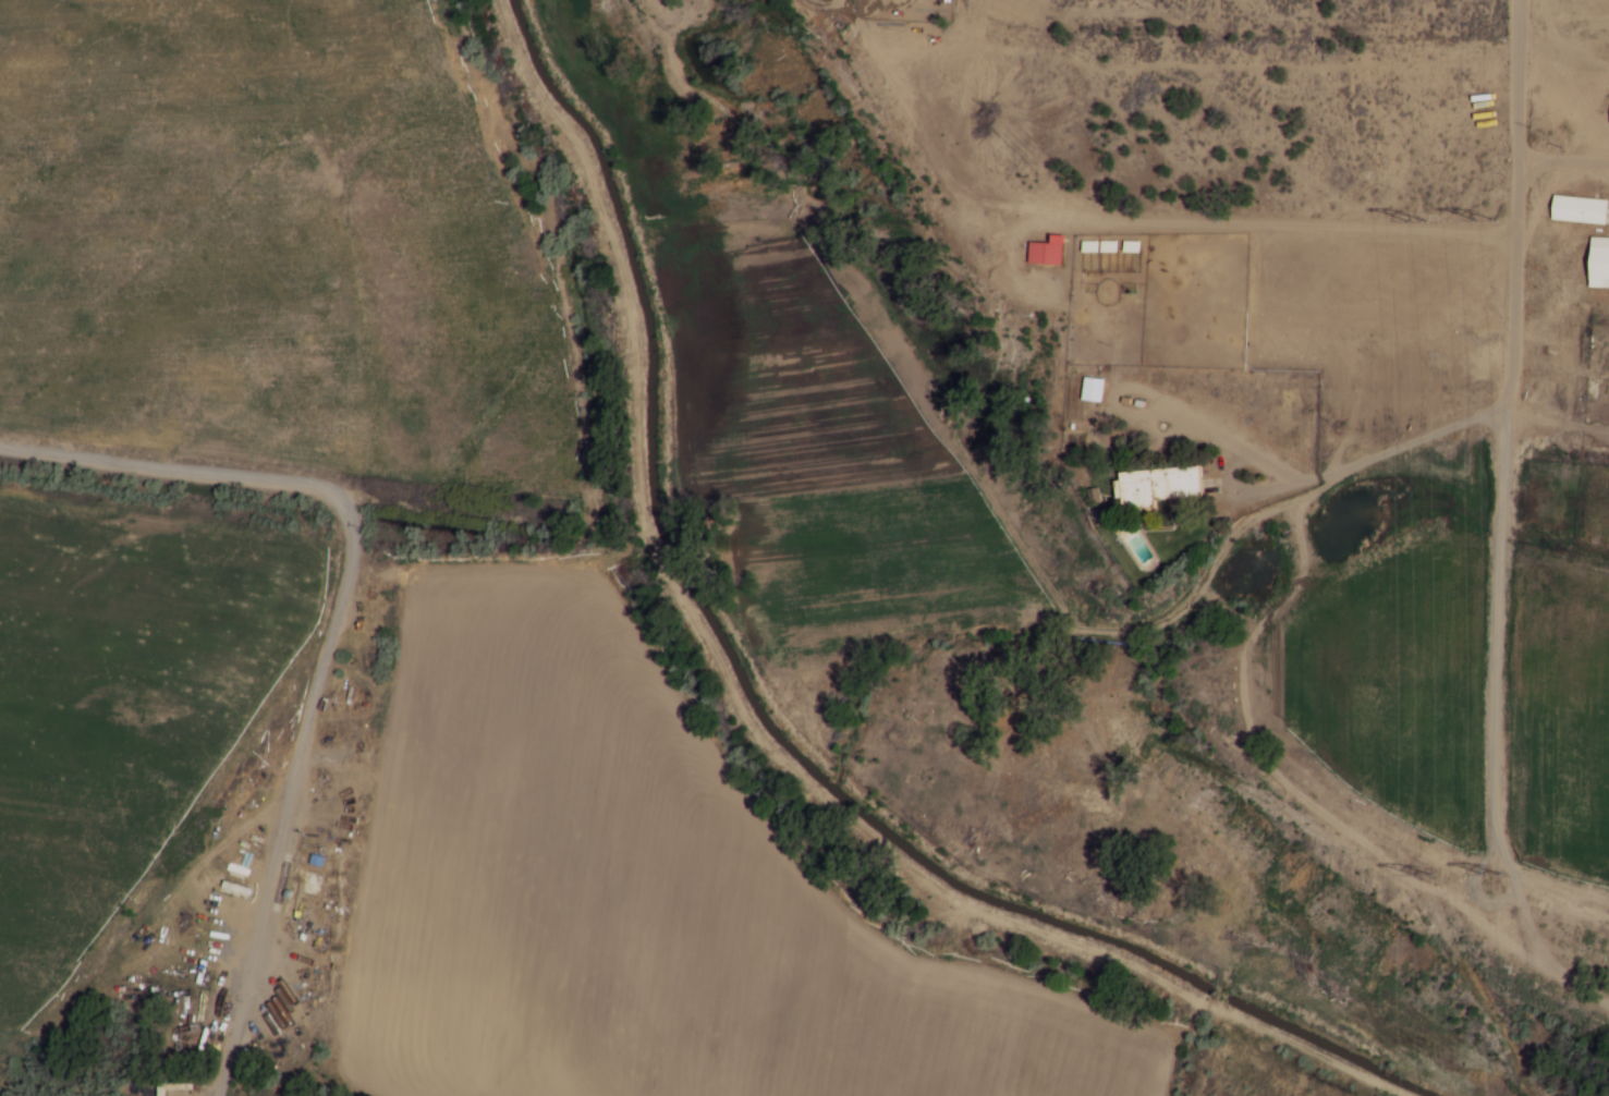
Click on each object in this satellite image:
building: (1580, 209)
power tower: (1414, 218)
power tower: (1478, 218)
building: (990, 222)
building: (1100, 245)
building: (1132, 245)
building: (1045, 252)
building: (1598, 261)
road: (1514, 339)
building: (1093, 389)
building: (1155, 485)
road: (1333, 647)
road: (1331, 815)
power tower: (1427, 878)
power tower: (1492, 880)

